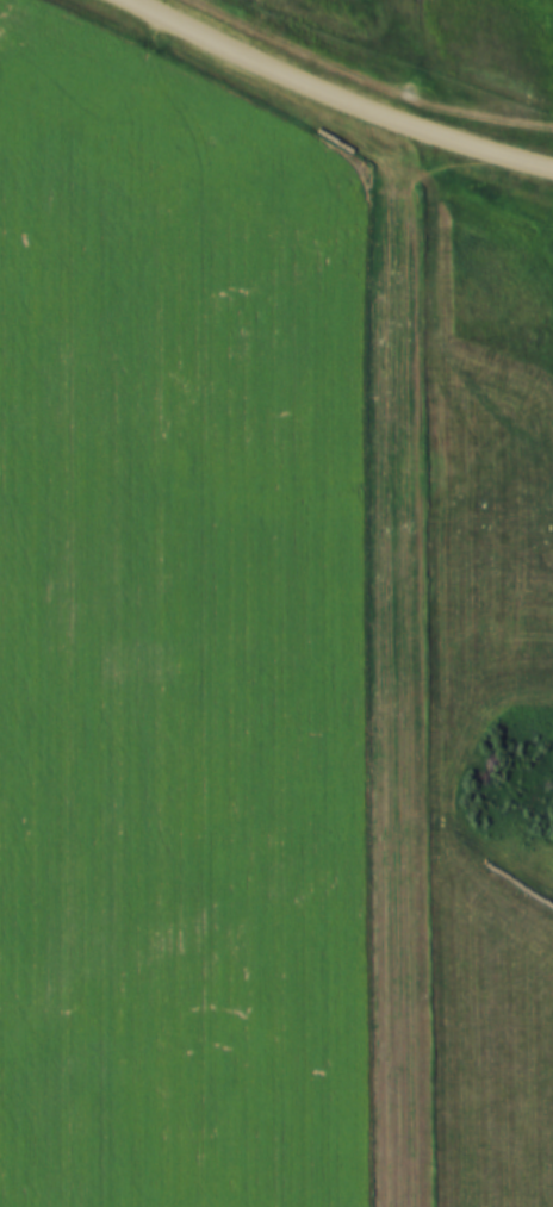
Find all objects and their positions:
road: (340, 95)

